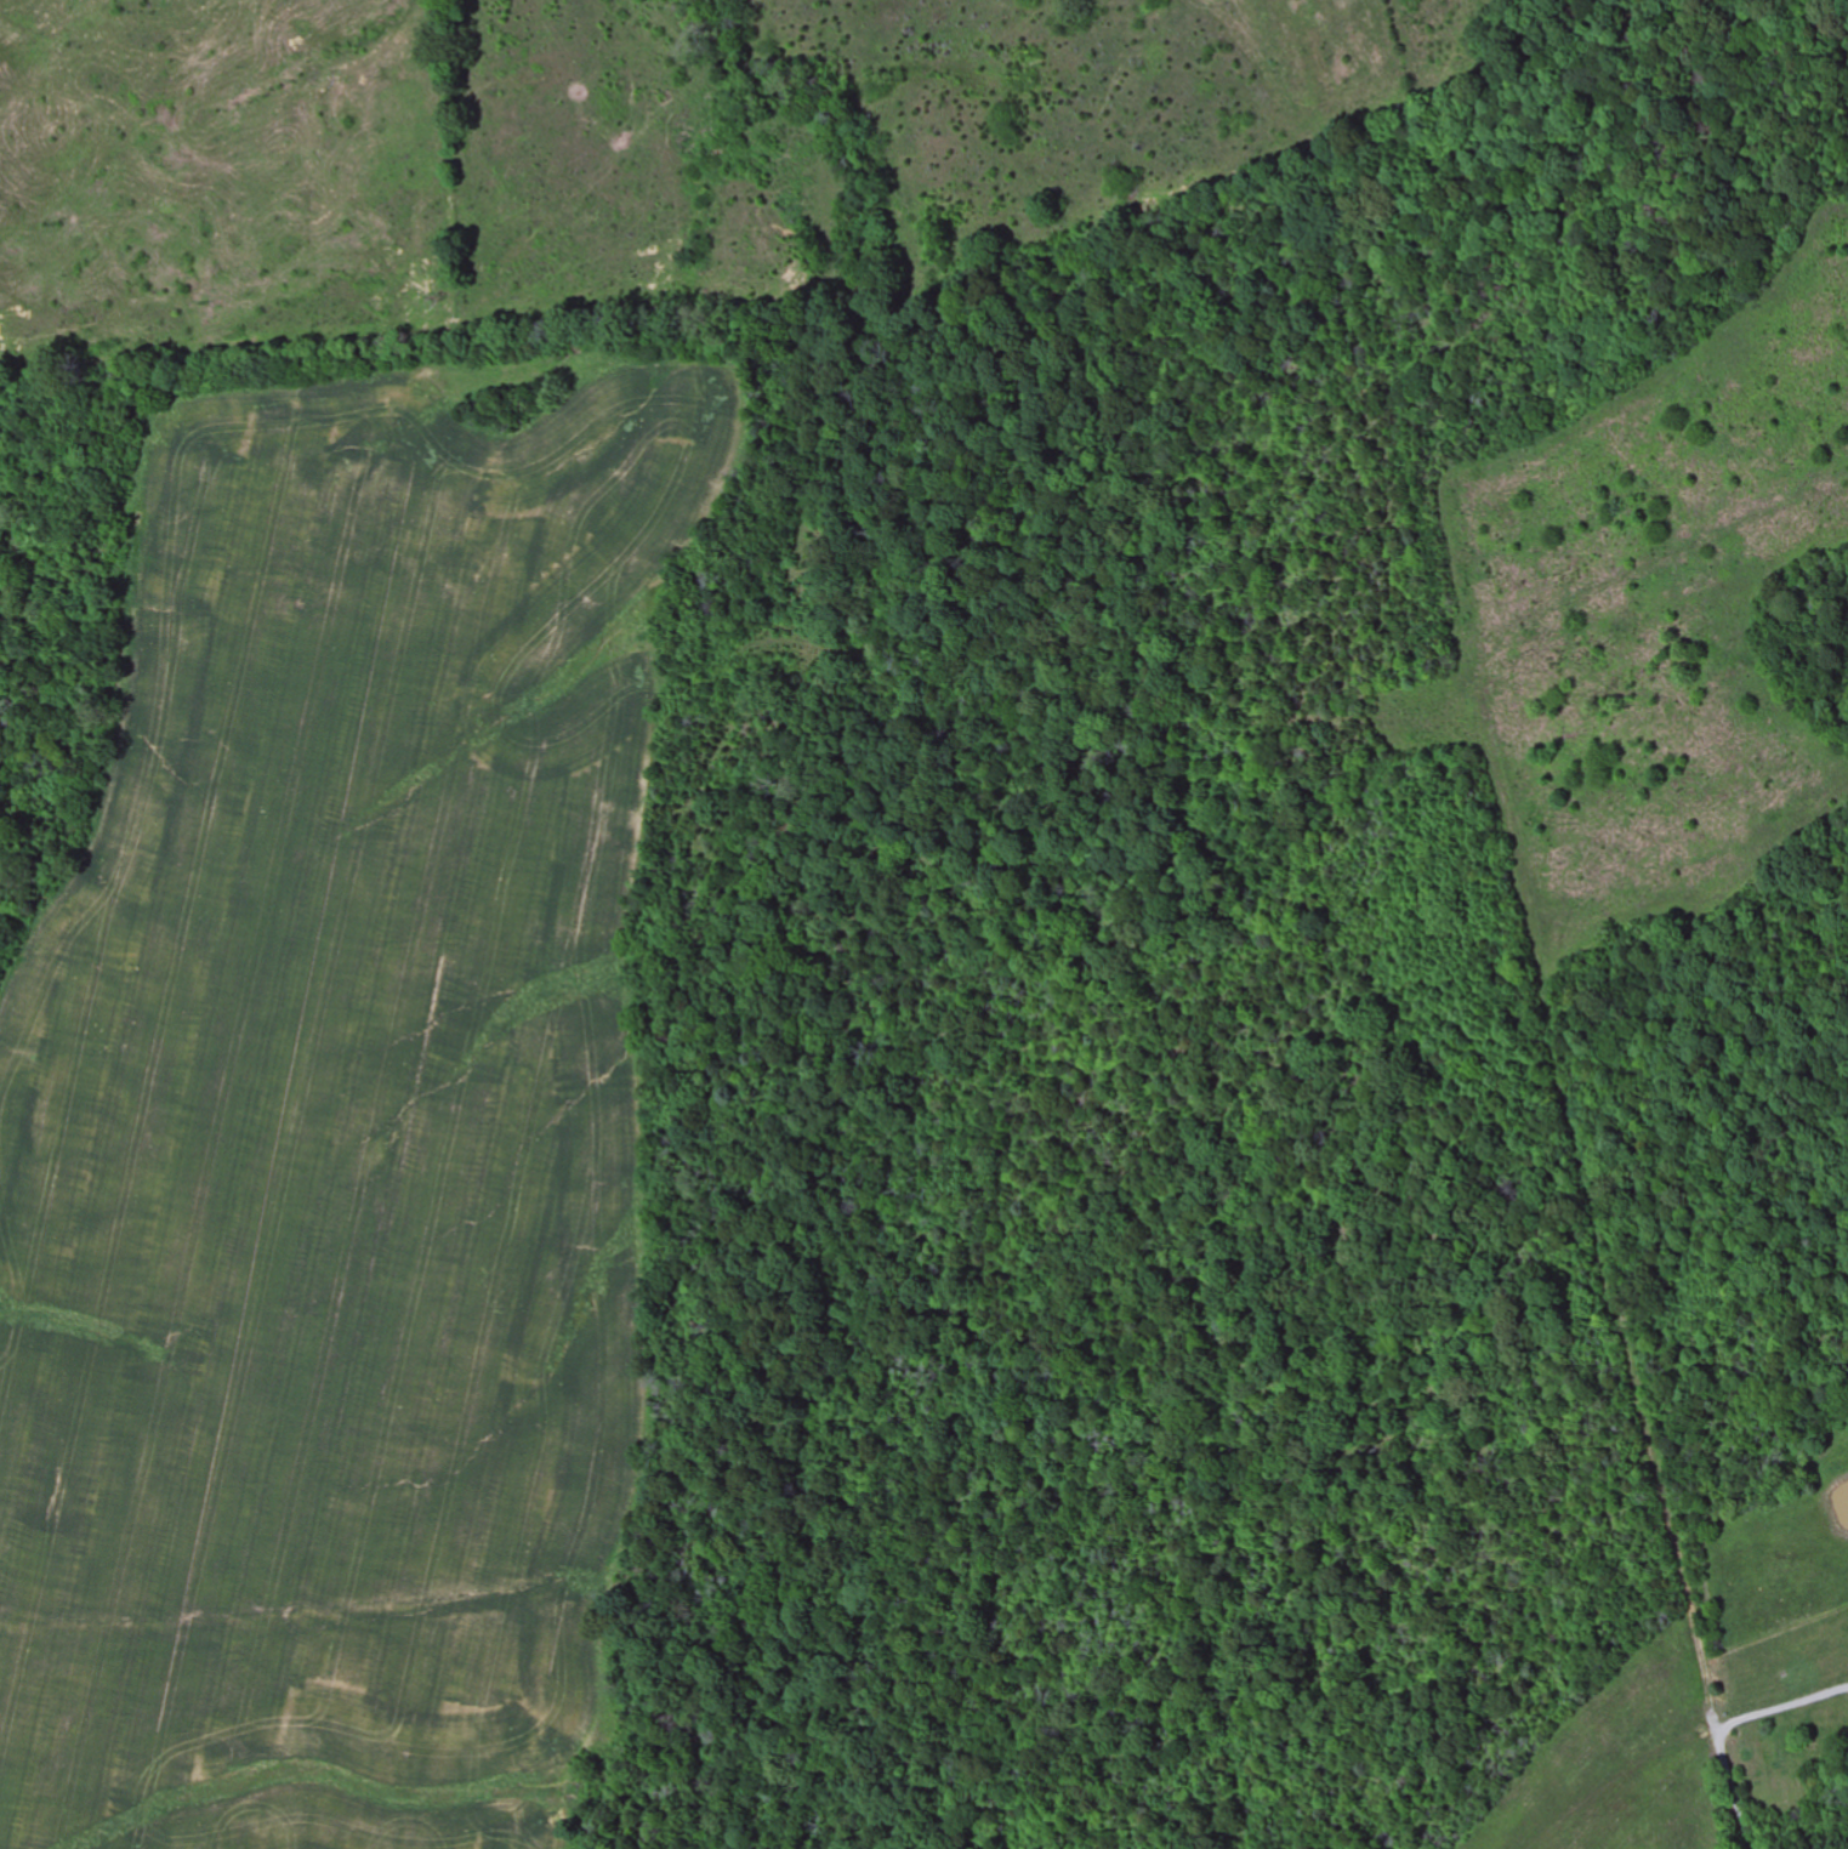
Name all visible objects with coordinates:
road: (1724, 1726)

